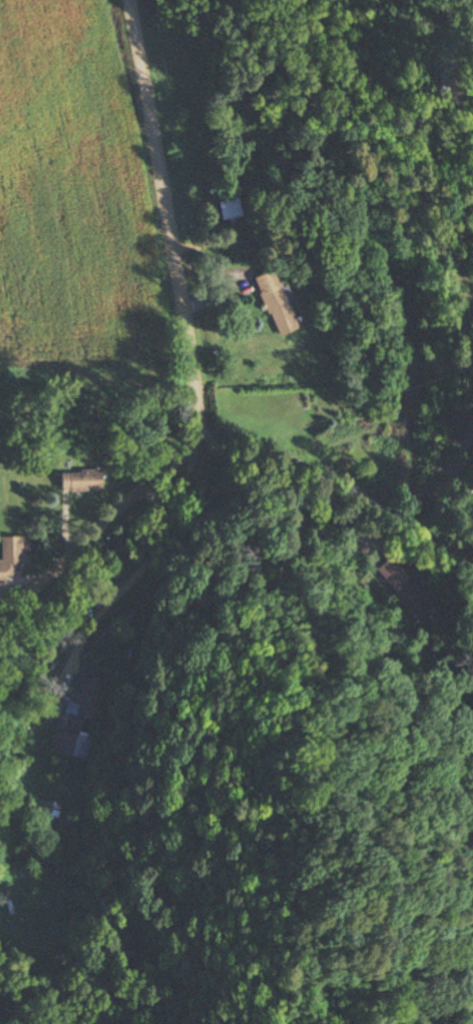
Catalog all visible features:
road: (191, 347)
building: (472, 486)
road: (338, 489)
building: (401, 582)
road: (94, 625)

